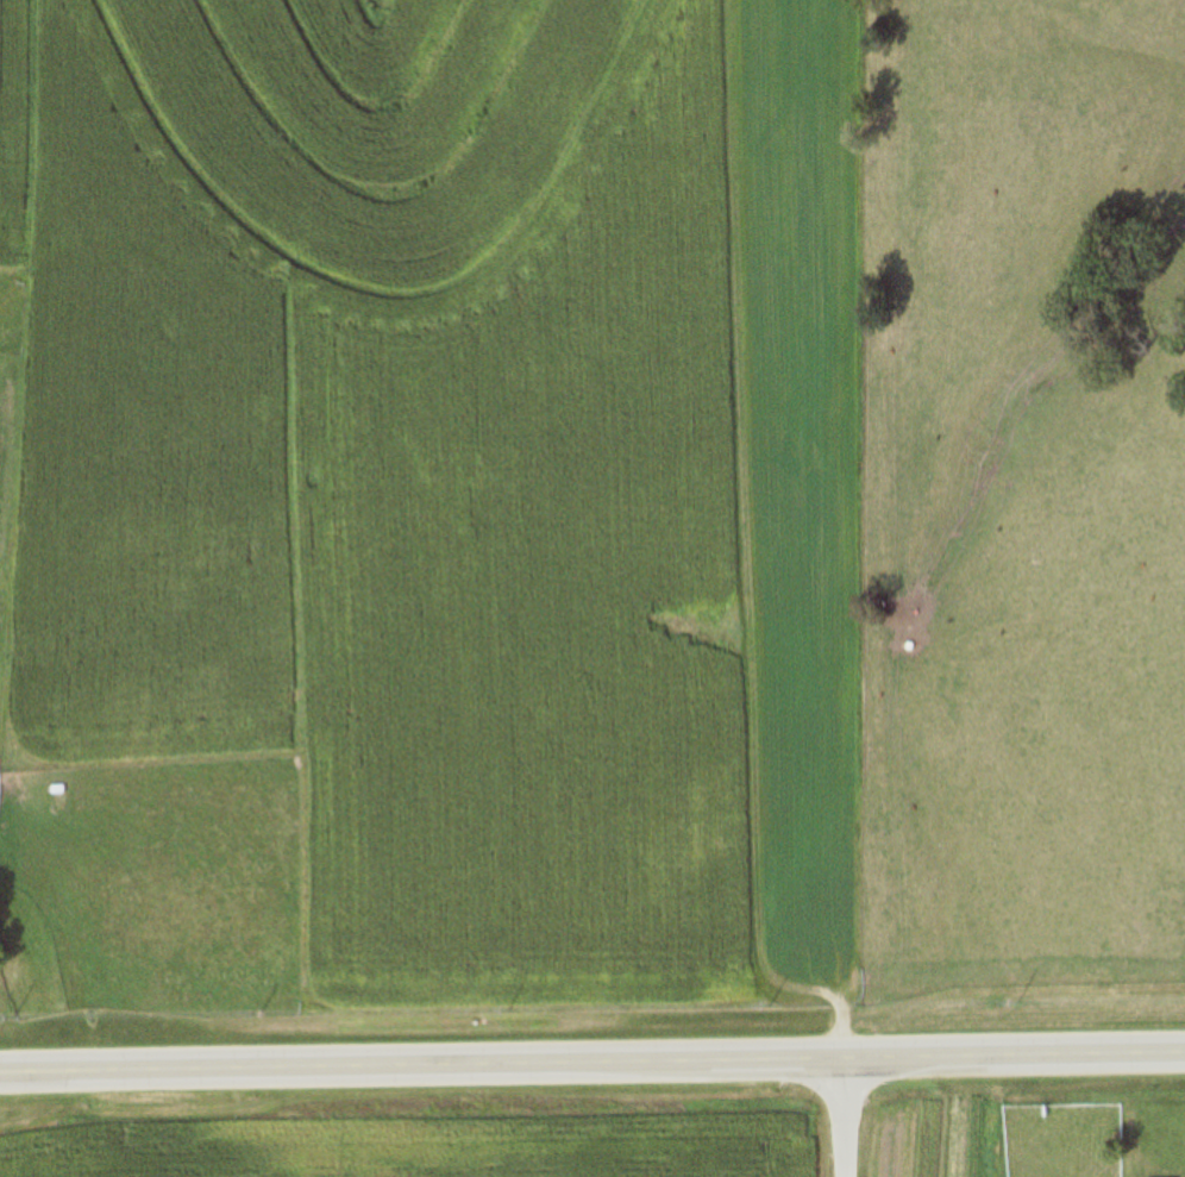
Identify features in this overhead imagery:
road: (591, 1064)
road: (845, 1119)

